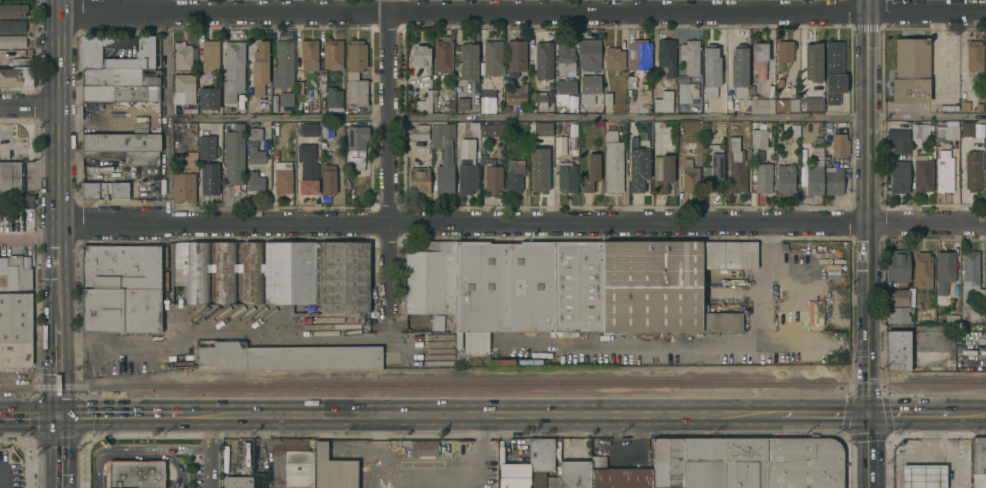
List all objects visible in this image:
building: (0, 0)
building: (20, 0)
road: (932, 4)
building: (13, 9)
road: (520, 10)
building: (12, 25)
building: (12, 40)
building: (784, 51)
road: (932, 52)
building: (332, 53)
building: (91, 54)
building: (210, 54)
building: (309, 54)
building: (590, 54)
building: (182, 55)
building: (443, 55)
building: (640, 55)
building: (690, 55)
building: (974, 55)
building: (420, 56)
building: (492, 56)
building: (516, 56)
building: (666, 56)
building: (355, 57)
building: (565, 58)
building: (614, 58)
building: (25, 59)
building: (543, 59)
building: (758, 59)
building: (468, 61)
building: (812, 62)
building: (260, 63)
building: (283, 64)
building: (739, 70)
building: (911, 70)
building: (233, 71)
building: (711, 71)
building: (834, 72)
building: (16, 75)
building: (120, 77)
building: (322, 79)
building: (985, 79)
building: (507, 81)
building: (185, 86)
building: (299, 87)
building: (590, 88)
building: (564, 89)
building: (356, 91)
building: (687, 91)
building: (119, 93)
building: (517, 95)
building: (209, 97)
building: (286, 98)
building: (537, 98)
building: (607, 98)
building: (334, 99)
building: (427, 100)
building: (813, 103)
building: (462, 104)
building: (488, 104)
building: (663, 104)
building: (786, 104)
road: (28, 105)
building: (264, 105)
building: (759, 105)
building: (449, 106)
building: (964, 106)
building: (507, 108)
building: (948, 108)
road: (166, 113)
road: (576, 118)
building: (985, 124)
building: (138, 125)
building: (719, 126)
building: (307, 129)
building: (326, 129)
building: (490, 129)
building: (542, 129)
building: (966, 129)
building: (794, 130)
building: (919, 130)
building: (951, 130)
building: (418, 131)
building: (255, 133)
building: (758, 138)
building: (819, 140)
building: (898, 140)
building: (216, 141)
building: (322, 144)
building: (837, 144)
building: (126, 145)
building: (558, 145)
building: (356, 146)
building: (205, 147)
building: (573, 149)
building: (234, 154)
building: (255, 155)
building: (443, 156)
building: (97, 157)
building: (190, 160)
road: (57, 161)
building: (121, 161)
building: (307, 162)
building: (613, 163)
building: (942, 164)
road: (384, 165)
building: (637, 166)
building: (737, 167)
building: (538, 169)
building: (467, 172)
building: (591, 172)
building: (663, 172)
building: (714, 172)
building: (923, 172)
building: (972, 172)
building: (89, 173)
building: (491, 173)
building: (515, 175)
building: (11, 176)
building: (348, 176)
building: (567, 176)
building: (815, 176)
building: (899, 176)
building: (690, 177)
building: (763, 177)
building: (210, 178)
building: (283, 178)
building: (786, 178)
building: (328, 179)
building: (255, 180)
building: (419, 180)
building: (833, 181)
building: (347, 183)
building: (183, 186)
building: (105, 189)
building: (154, 190)
building: (26, 197)
building: (1, 200)
building: (24, 216)
road: (522, 225)
road: (865, 244)
building: (783, 246)
building: (728, 255)
building: (898, 265)
building: (124, 267)
building: (922, 270)
building: (944, 270)
building: (15, 271)
building: (248, 271)
building: (344, 276)
building: (971, 278)
building: (431, 279)
building: (578, 285)
building: (651, 285)
building: (502, 290)
building: (899, 297)
building: (121, 311)
building: (898, 314)
building: (985, 316)
building: (15, 318)
building: (952, 318)
building: (720, 322)
building: (838, 324)
road: (925, 329)
road: (387, 335)
road: (223, 337)
building: (459, 340)
road: (714, 343)
road: (413, 346)
road: (59, 348)
building: (897, 350)
building: (15, 355)
building: (287, 356)
building: (459, 358)
road: (30, 380)
road: (60, 380)
railway: (492, 382)
road: (60, 400)
road: (967, 414)
road: (30, 415)
traffic signals: (60, 415)
road: (120, 415)
road: (194, 415)
road: (493, 415)
road: (821, 415)
traffic signals: (865, 415)
road: (907, 415)
building: (417, 443)
road: (136, 448)
building: (336, 450)
road: (60, 451)
road: (210, 451)
road: (942, 451)
building: (424, 452)
building: (541, 453)
road: (383, 454)
road: (479, 454)
building: (292, 462)
building: (667, 462)
building: (703, 462)
building: (745, 462)
building: (803, 462)
building: (979, 462)
building: (333, 469)
parking lot: (9, 472)
building: (135, 474)
building: (575, 474)
building: (514, 475)
building: (619, 475)
road: (2, 476)
building: (929, 476)
building: (538, 479)
building: (237, 481)
building: (553, 482)

